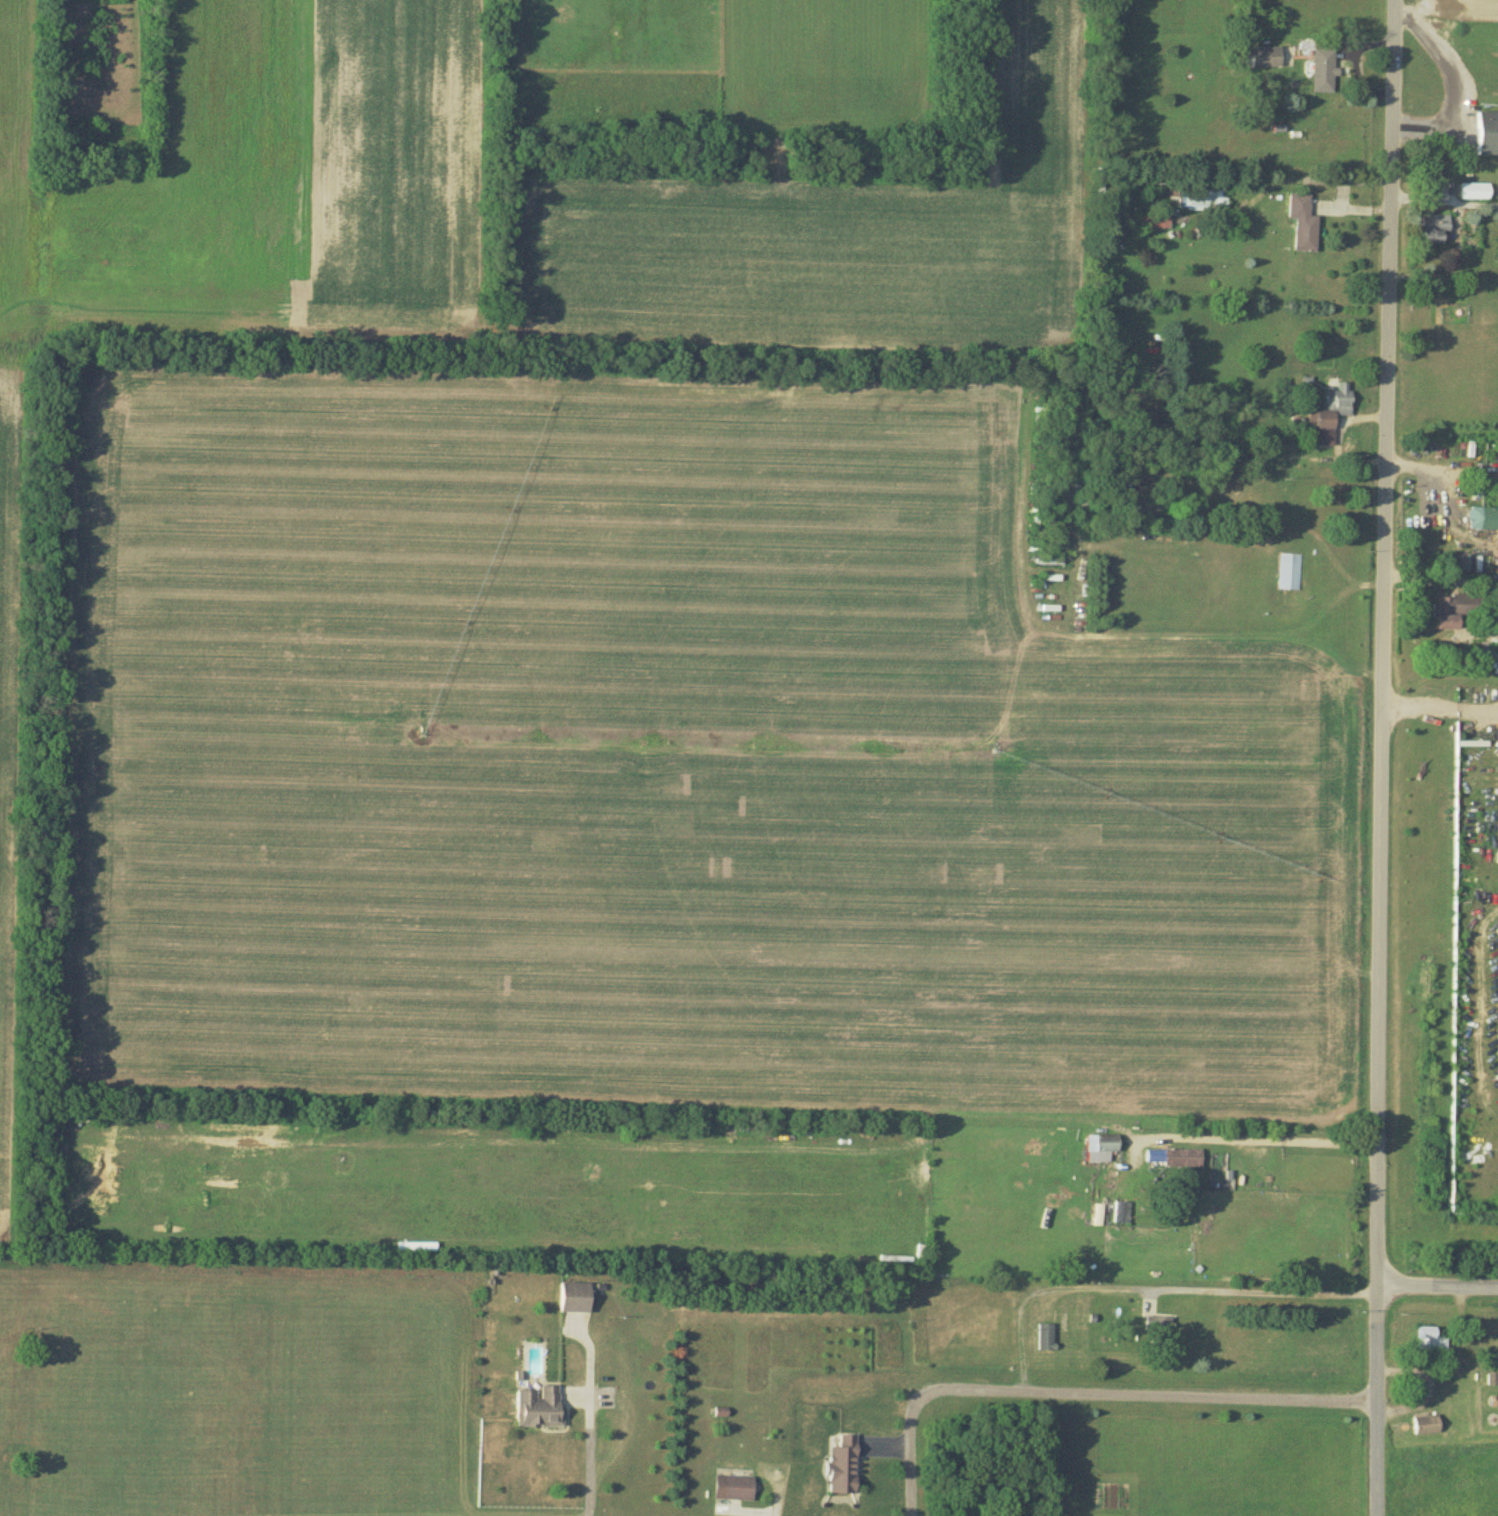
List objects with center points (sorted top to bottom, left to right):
road: (1440, 712)
road: (1381, 757)
road: (1262, 1140)
road: (1153, 1285)
road: (1437, 1289)
road: (1085, 1388)
road: (591, 1457)
road: (777, 1496)

